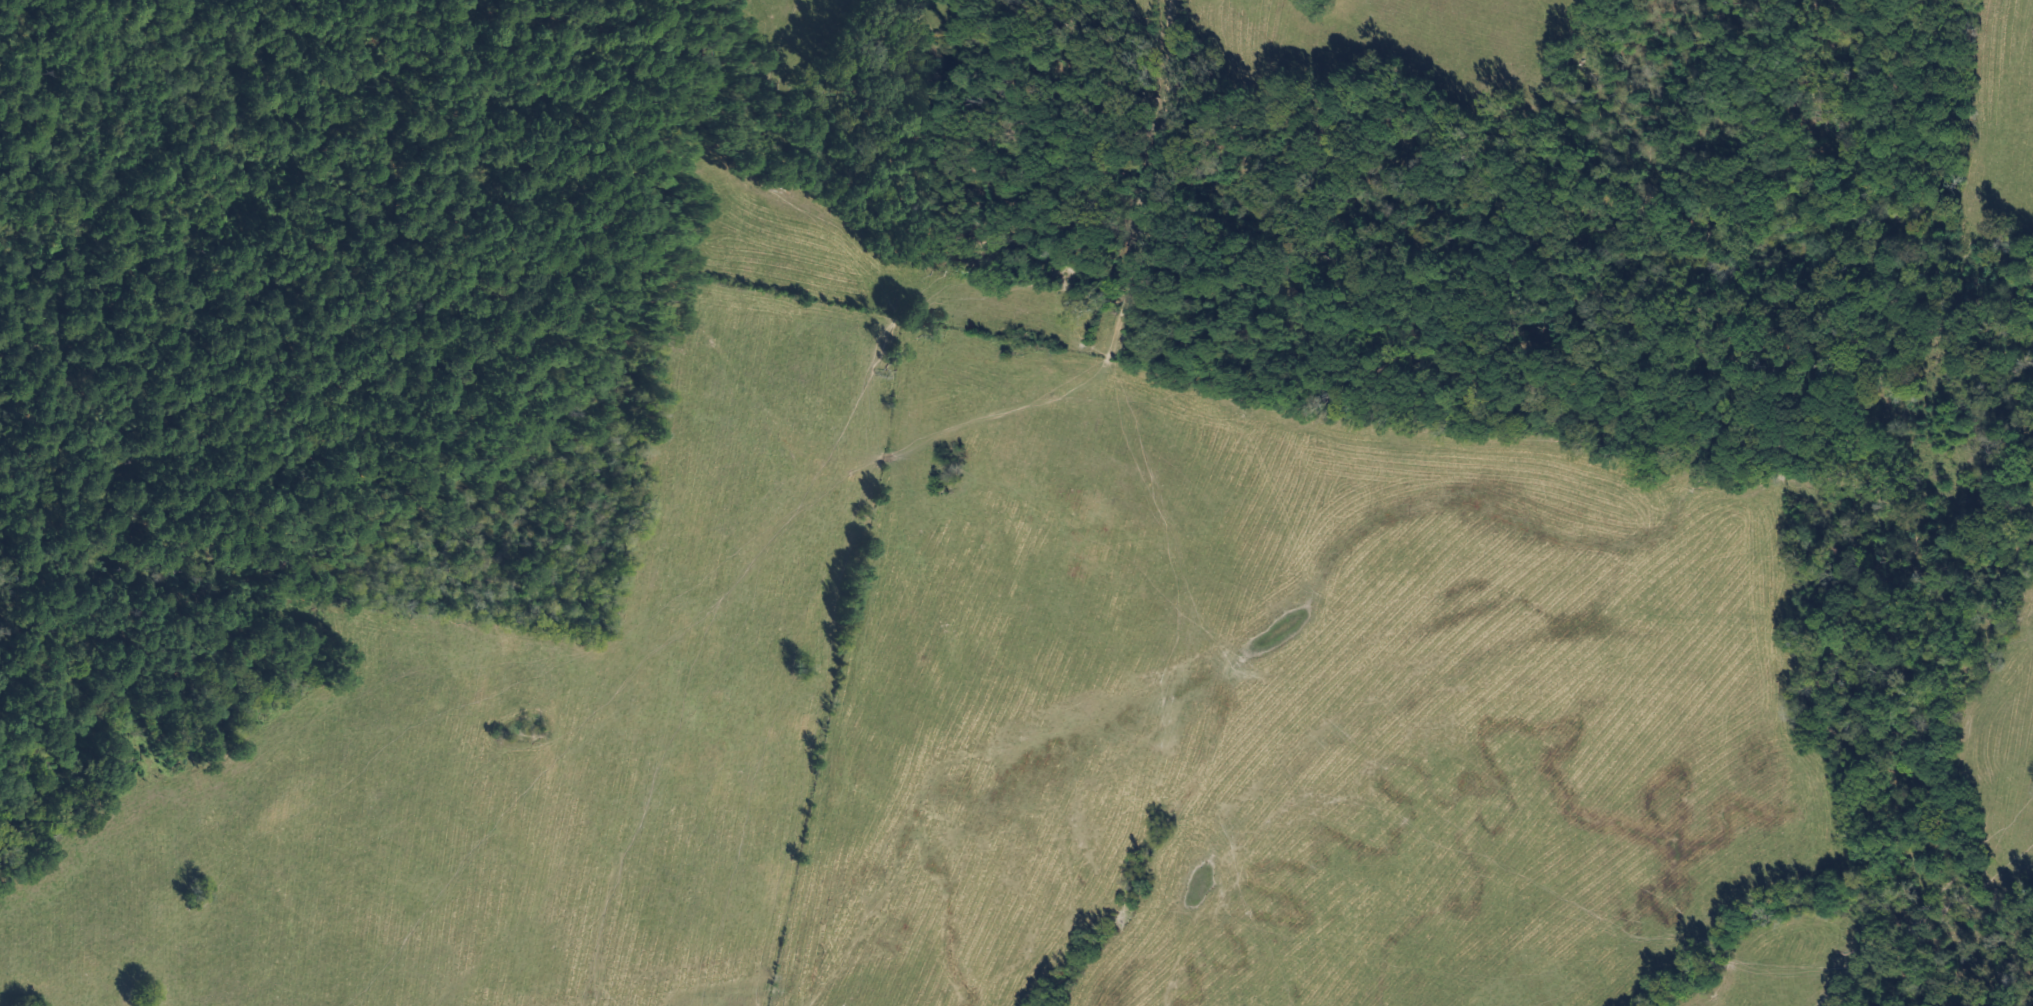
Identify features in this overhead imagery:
road: (1621, 995)

